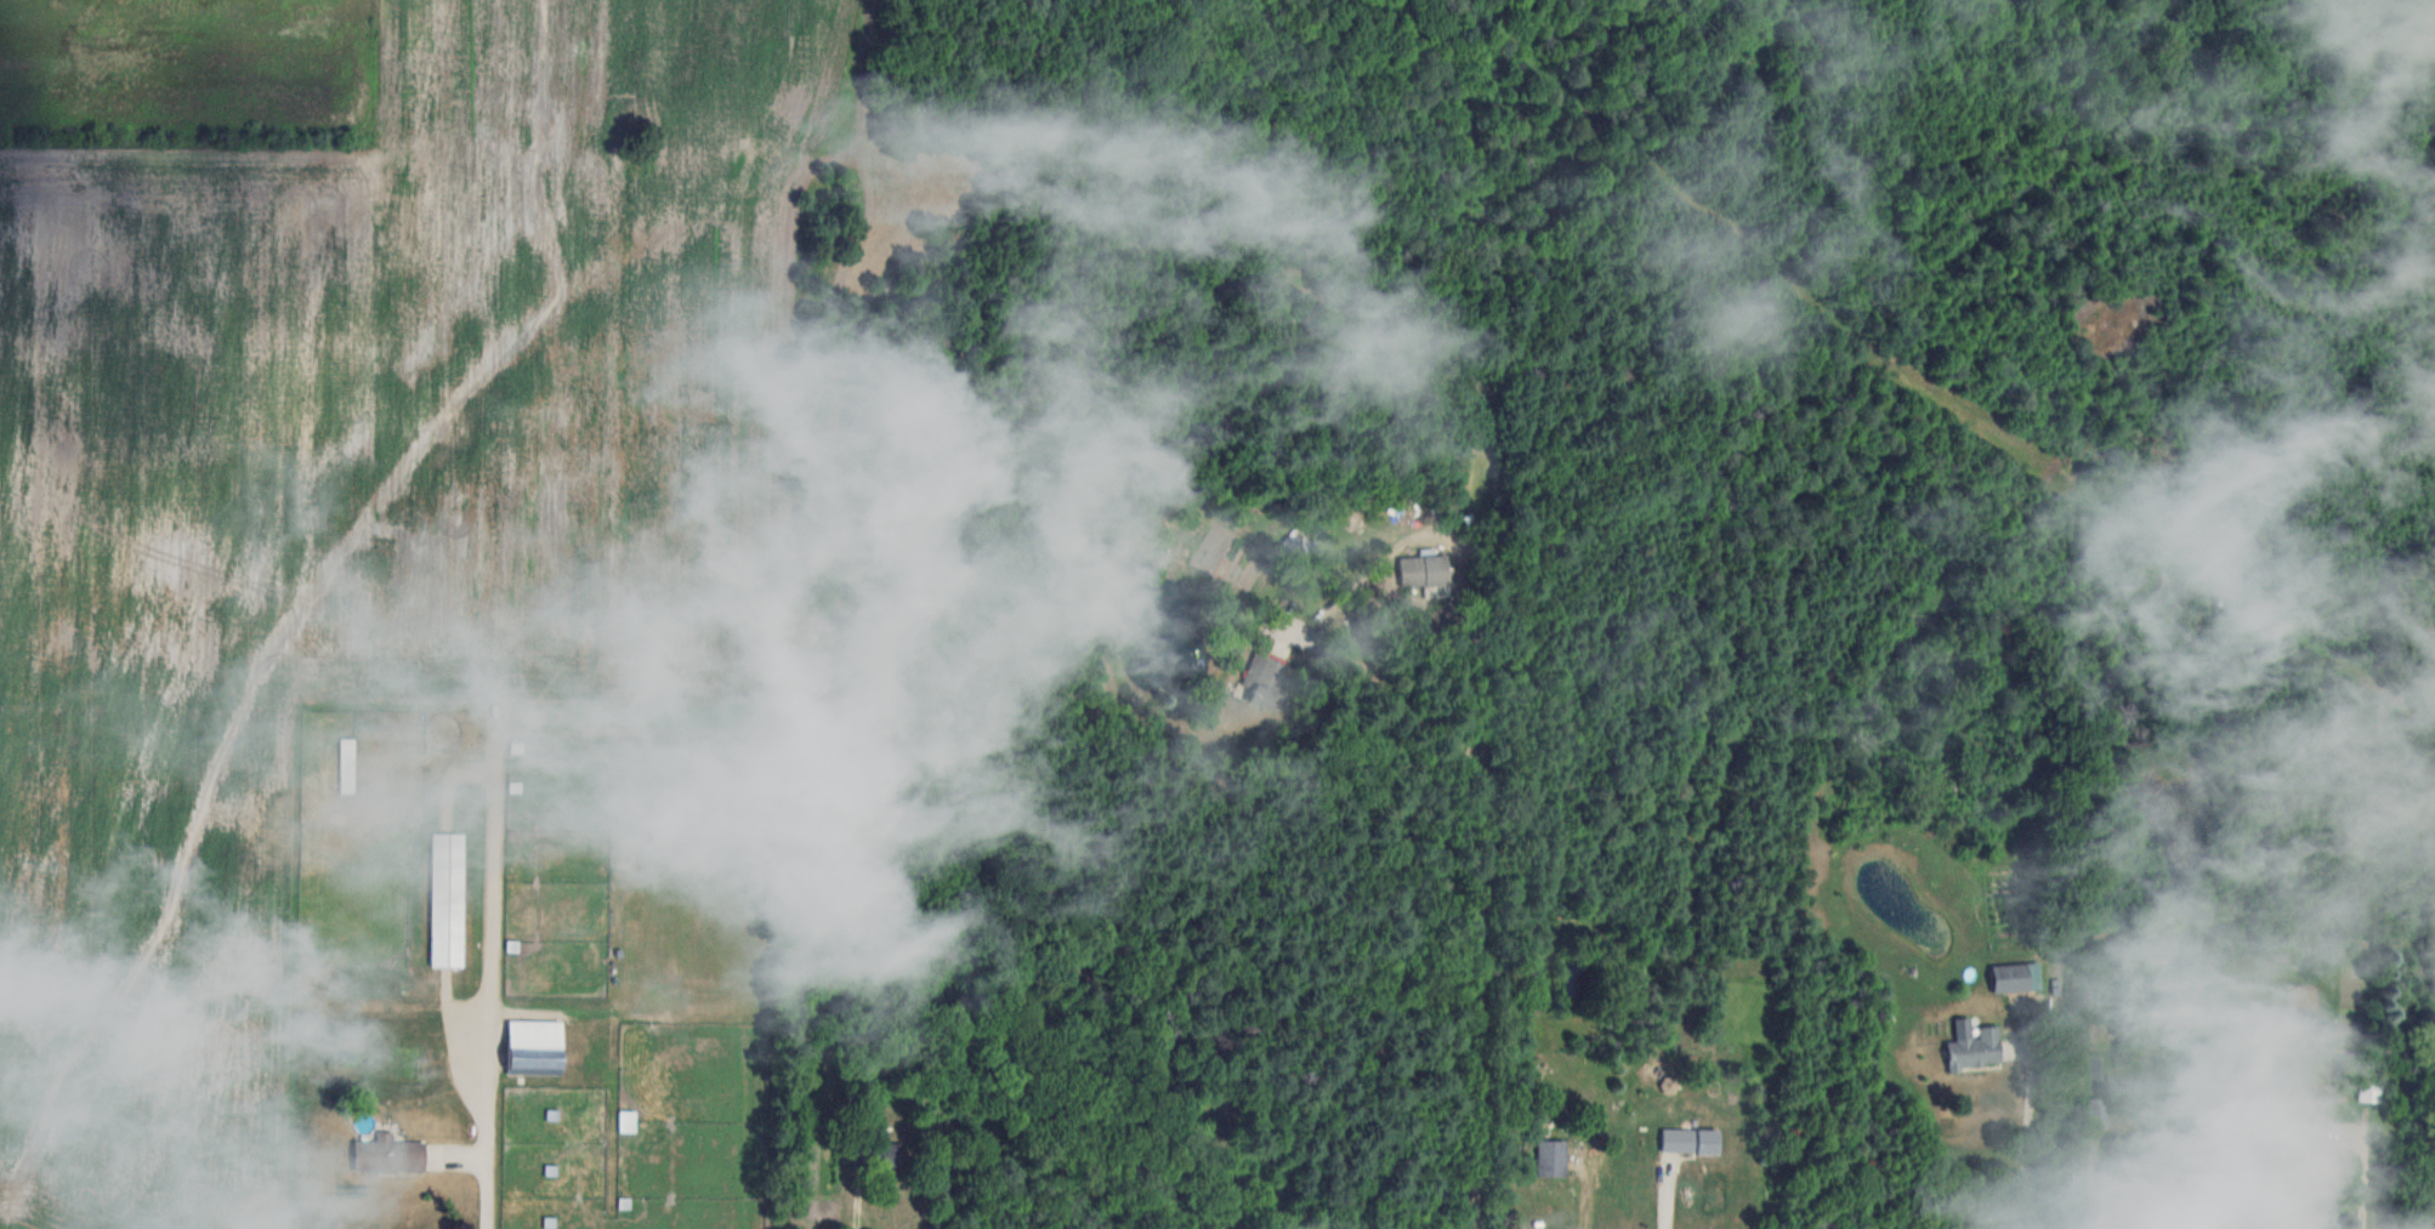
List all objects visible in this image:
building: (1424, 570)
building: (1264, 683)
building: (347, 763)
building: (448, 898)
building: (631, 926)
building: (2017, 977)
building: (1974, 1043)
building: (535, 1046)
building: (2371, 1086)
building: (2099, 1110)
building: (628, 1120)
building: (175, 1128)
building: (1678, 1138)
building: (1708, 1139)
building: (2304, 1147)
building: (388, 1153)
building: (1551, 1155)
building: (2132, 1177)

